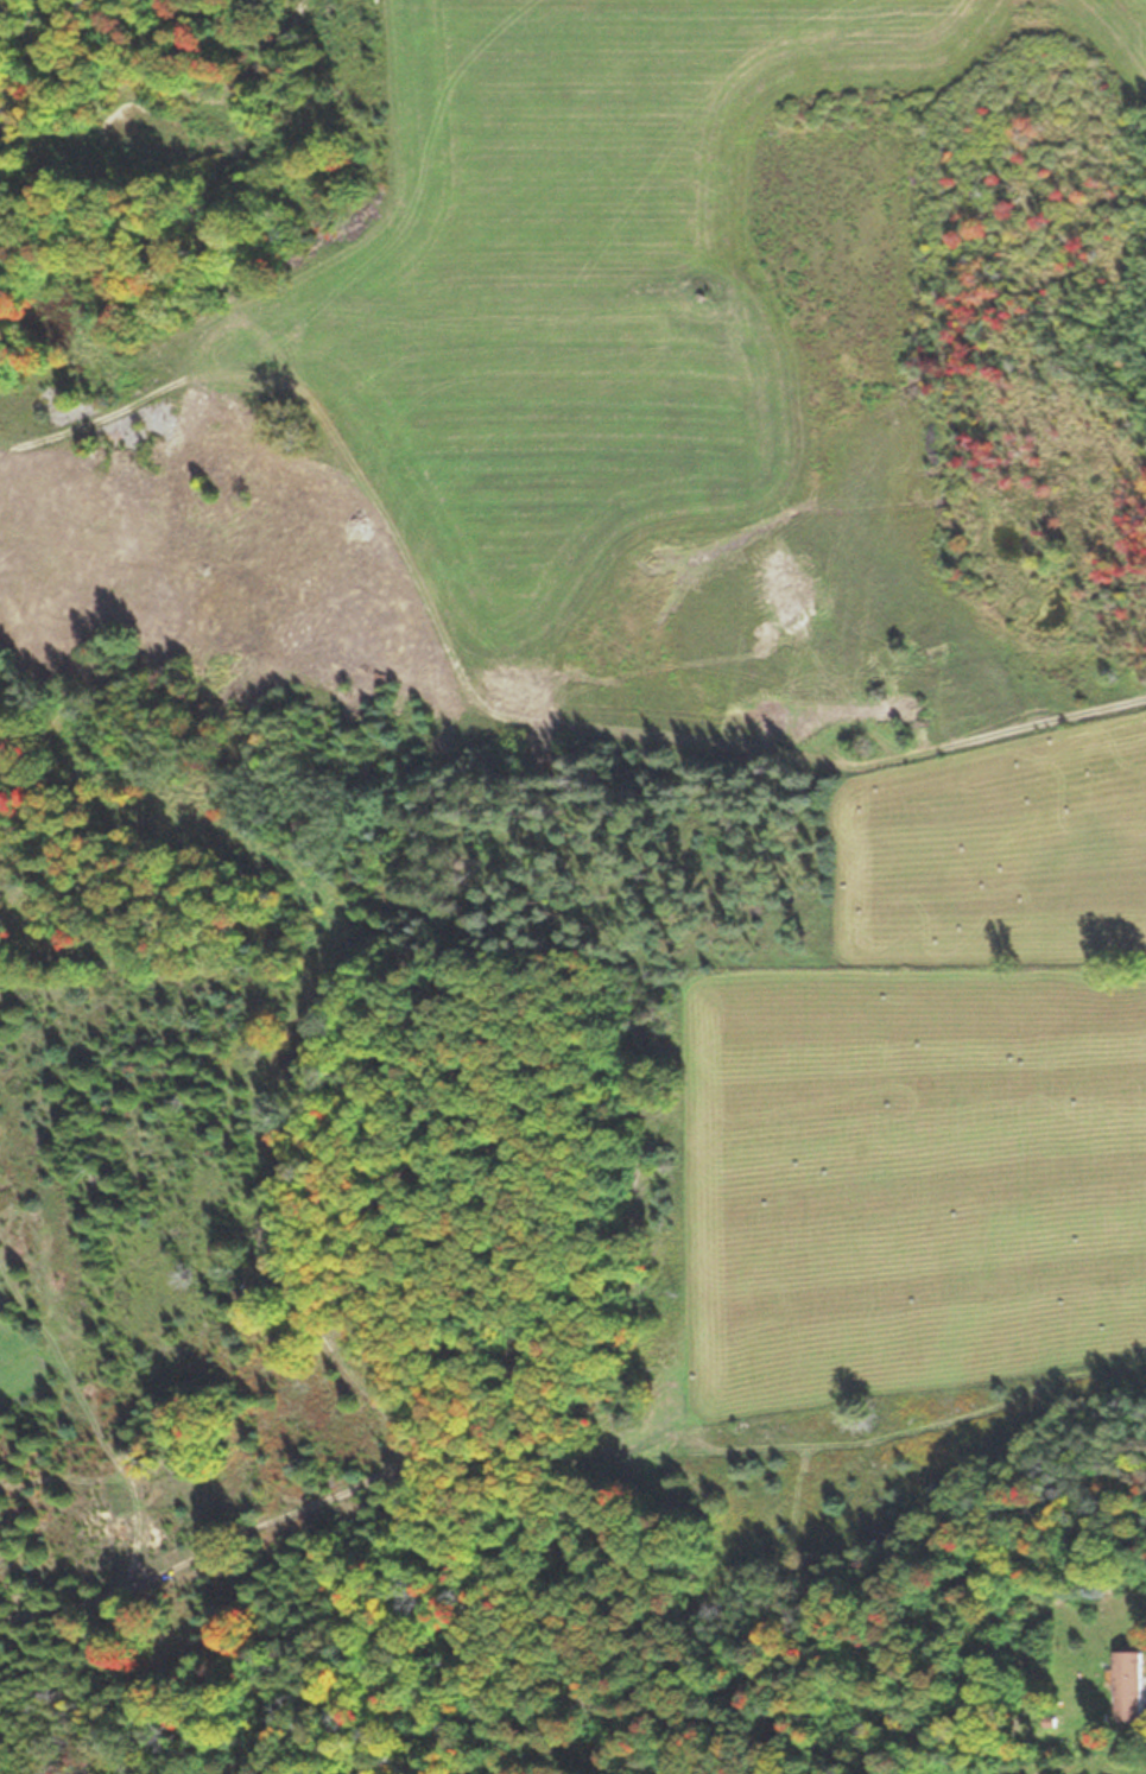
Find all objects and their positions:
building: (1128, 1686)

